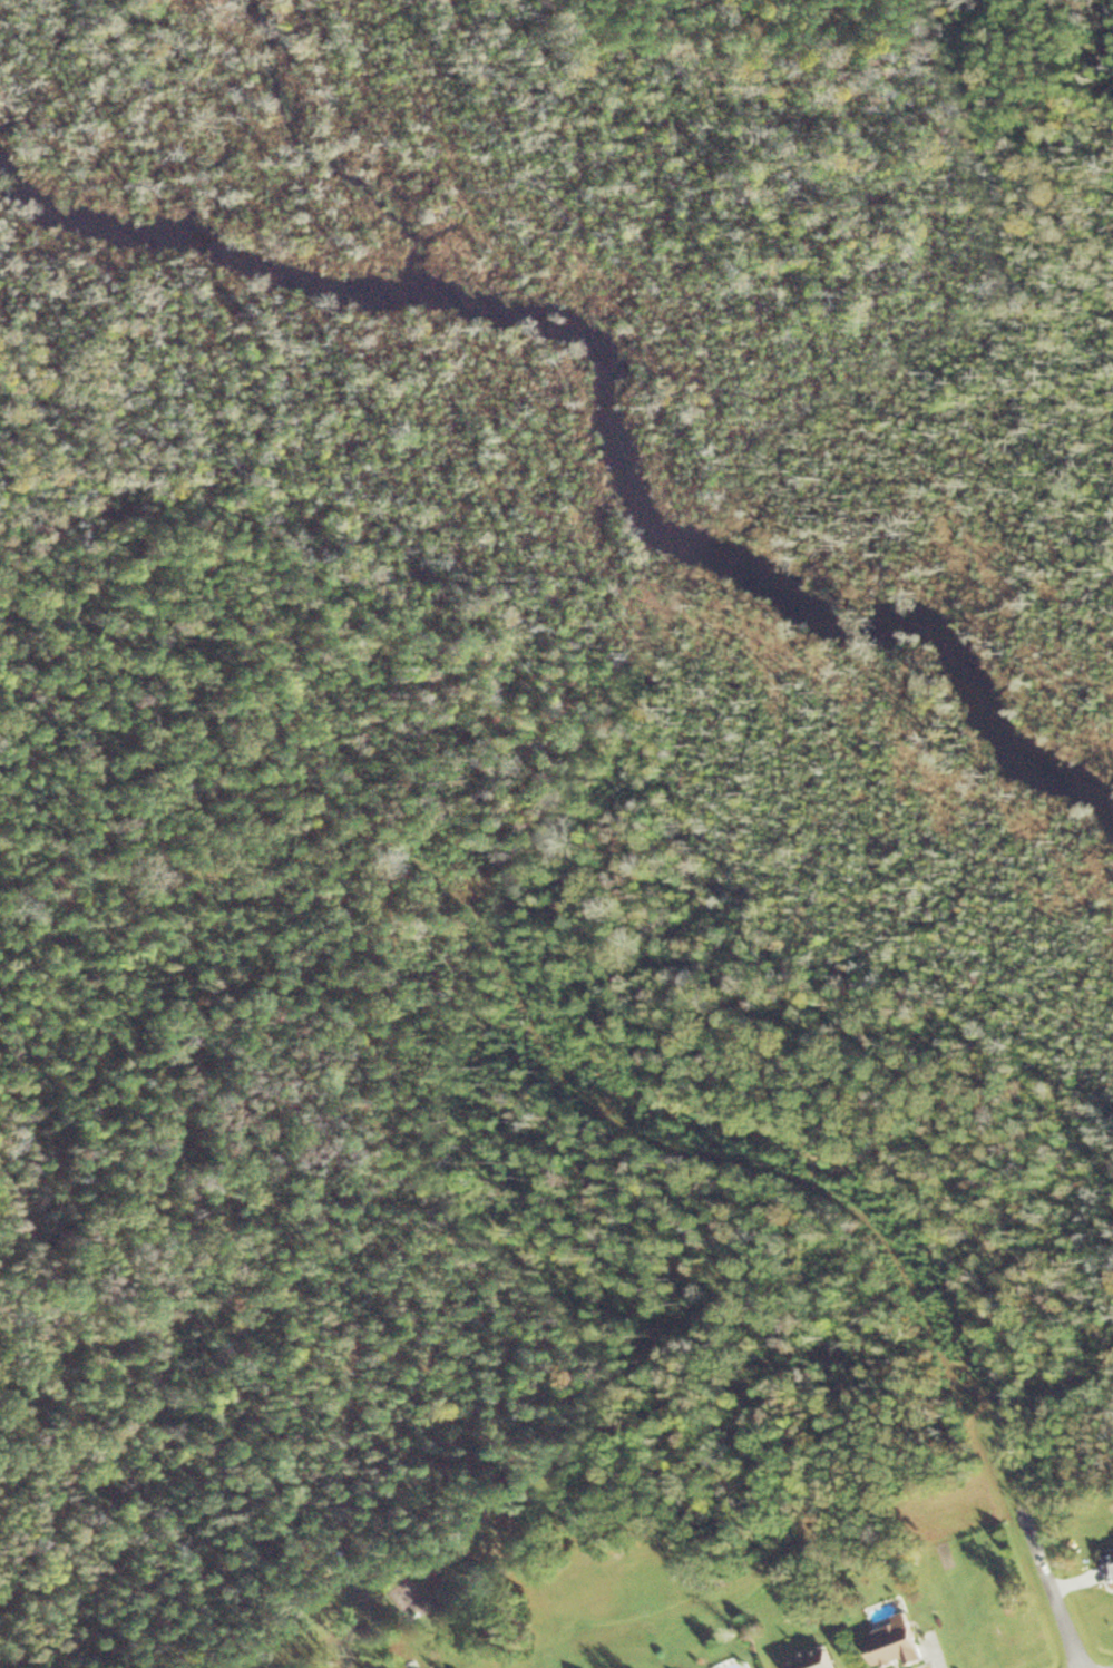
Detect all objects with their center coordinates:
building: (1107, 1563)
building: (891, 1643)
building: (809, 1659)

